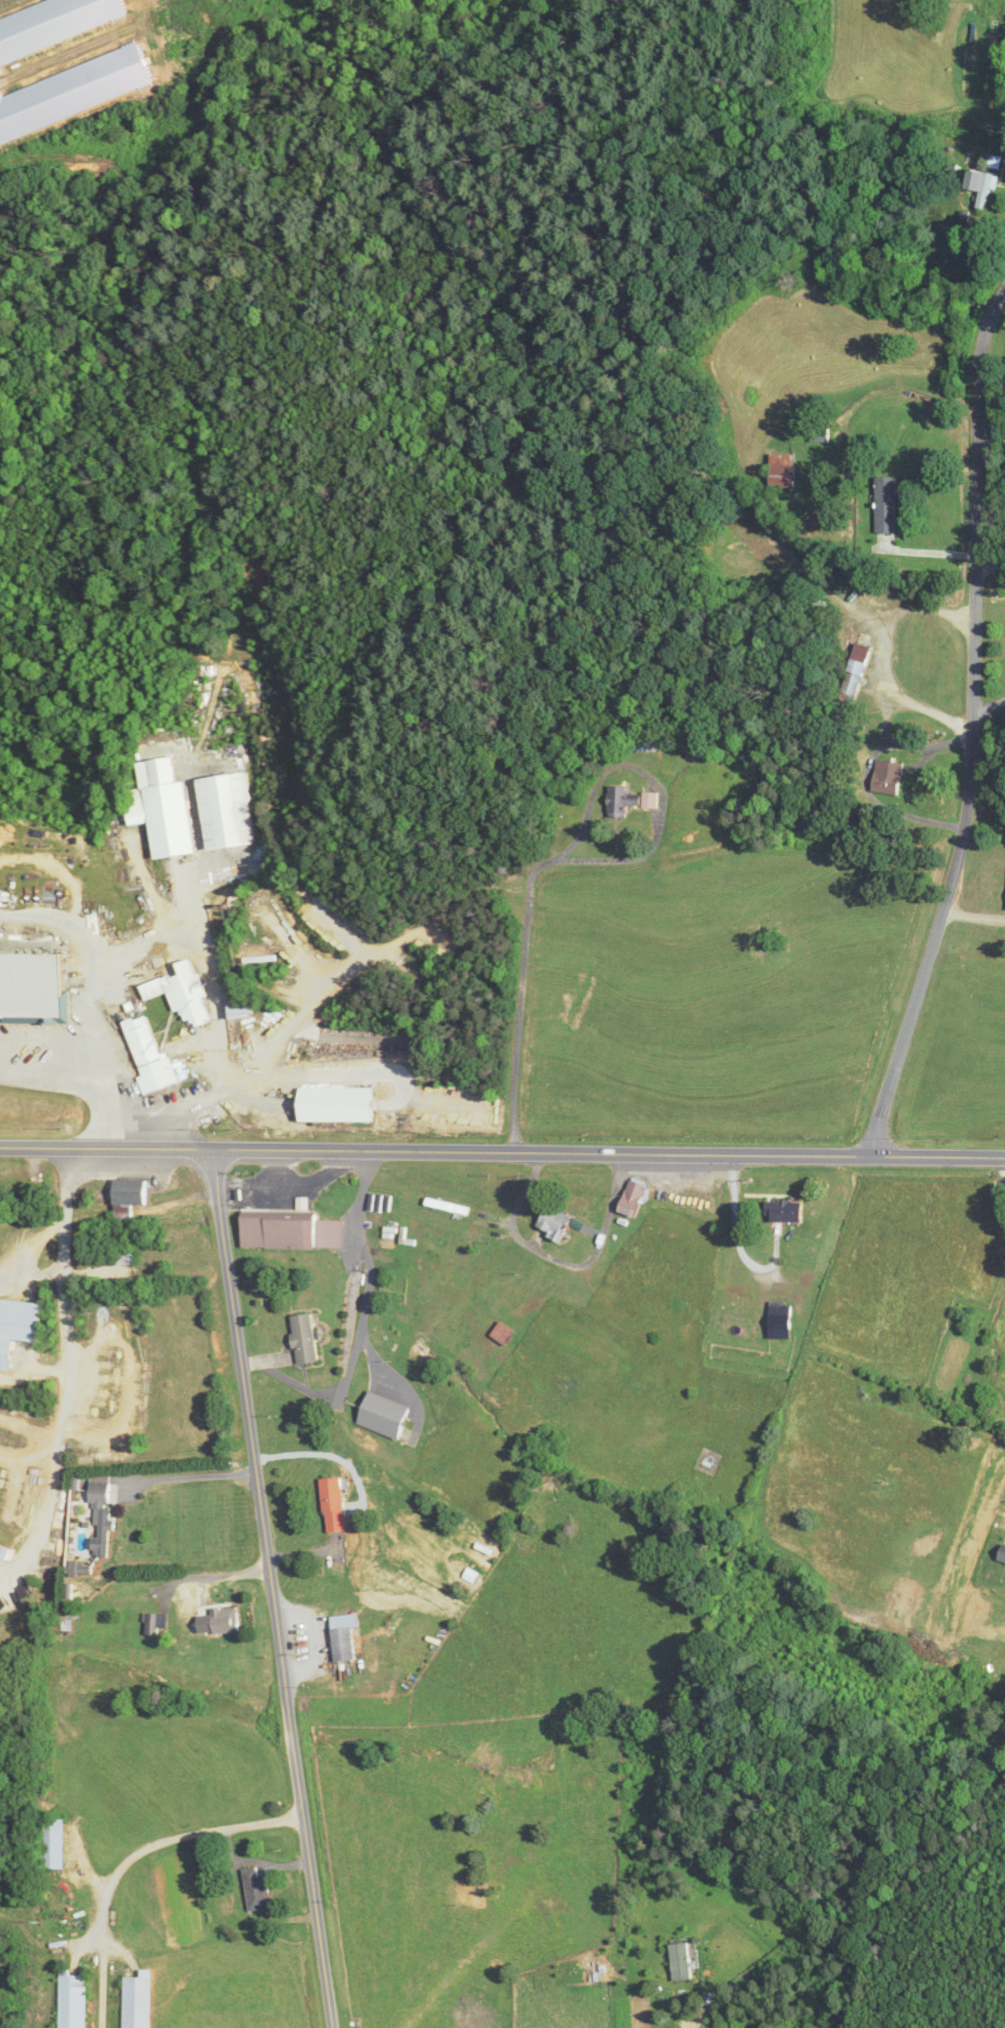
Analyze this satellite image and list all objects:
building: (61, 27)
building: (78, 94)
road: (991, 441)
building: (783, 470)
building: (888, 503)
road: (928, 551)
road: (989, 567)
building: (856, 673)
road: (989, 706)
road: (971, 727)
building: (648, 741)
building: (887, 776)
building: (629, 800)
building: (164, 809)
building: (224, 811)
road: (569, 860)
building: (35, 986)
building: (181, 991)
building: (239, 1009)
building: (149, 1053)
building: (339, 1103)
road: (502, 1151)
building: (131, 1196)
building: (634, 1198)
building: (378, 1203)
building: (555, 1222)
building: (292, 1230)
building: (129, 1256)
road: (370, 1271)
building: (781, 1319)
building: (19, 1328)
building: (502, 1333)
building: (309, 1339)
building: (386, 1416)
building: (705, 1461)
road: (195, 1477)
building: (337, 1505)
building: (102, 1517)
building: (6, 1553)
building: (999, 1554)
road: (271, 1588)
building: (227, 1621)
building: (157, 1625)
building: (348, 1638)
road: (171, 1838)
building: (54, 1844)
building: (68, 1888)
building: (258, 1888)
building: (682, 1962)
building: (72, 2000)
building: (138, 2001)
road: (695, 2024)

